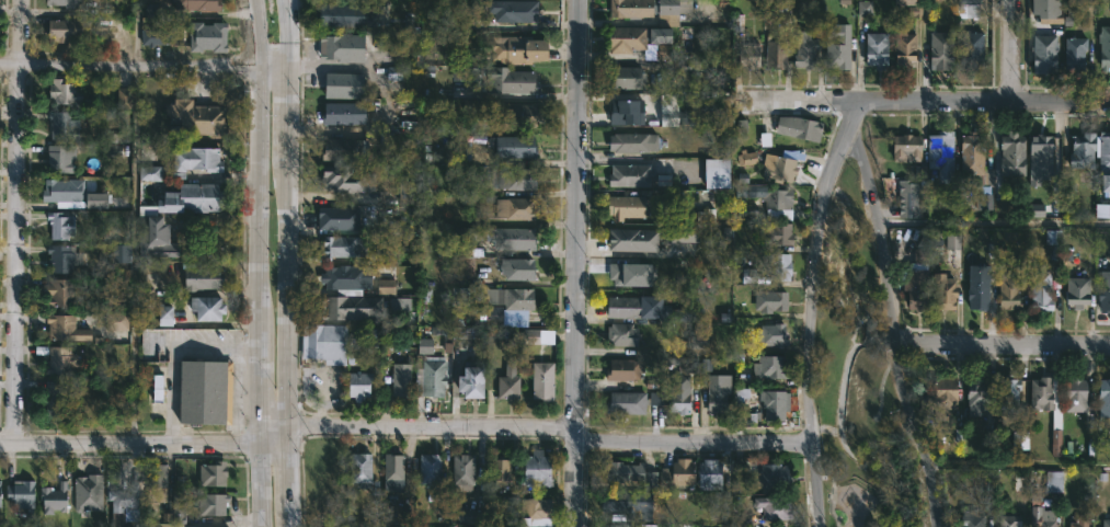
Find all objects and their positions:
building: (68, 2)
building: (199, 3)
building: (649, 8)
building: (863, 8)
building: (911, 8)
building: (968, 9)
building: (515, 10)
building: (1044, 12)
building: (346, 15)
building: (408, 24)
building: (69, 28)
road: (135, 35)
building: (209, 35)
road: (250, 35)
building: (659, 35)
building: (156, 36)
building: (630, 37)
building: (901, 45)
building: (340, 46)
building: (838, 46)
building: (1102, 47)
building: (523, 48)
building: (872, 49)
building: (937, 49)
building: (968, 49)
building: (801, 50)
road: (1009, 51)
building: (1040, 51)
building: (1071, 51)
building: (775, 53)
building: (751, 55)
road: (144, 70)
building: (393, 73)
building: (630, 77)
building: (500, 79)
building: (344, 84)
building: (67, 92)
building: (124, 98)
road: (926, 101)
building: (668, 105)
building: (629, 112)
building: (345, 113)
building: (519, 114)
building: (201, 116)
building: (685, 117)
building: (65, 125)
building: (740, 126)
building: (800, 127)
building: (636, 141)
building: (518, 146)
building: (902, 147)
building: (345, 149)
building: (1079, 150)
building: (461, 151)
building: (1009, 153)
building: (936, 156)
building: (747, 158)
building: (62, 159)
building: (198, 159)
building: (1037, 159)
building: (777, 167)
building: (973, 170)
building: (717, 172)
building: (150, 173)
building: (633, 175)
building: (1102, 175)
building: (350, 179)
building: (515, 179)
building: (75, 193)
building: (405, 193)
road: (261, 196)
building: (774, 197)
building: (195, 198)
building: (907, 204)
building: (629, 207)
building: (517, 208)
building: (748, 209)
building: (1037, 210)
building: (705, 217)
building: (337, 218)
road: (16, 221)
road: (994, 222)
building: (62, 225)
building: (685, 233)
building: (775, 233)
building: (502, 237)
building: (1052, 237)
building: (158, 238)
building: (636, 239)
building: (952, 243)
building: (344, 245)
building: (121, 253)
road: (133, 256)
building: (65, 257)
road: (288, 262)
road: (575, 263)
building: (474, 264)
building: (775, 266)
building: (520, 268)
building: (621, 272)
road: (884, 273)
building: (747, 275)
building: (346, 277)
building: (205, 278)
building: (1006, 285)
building: (386, 286)
building: (912, 288)
building: (1041, 288)
building: (1077, 289)
building: (1102, 290)
building: (939, 291)
building: (64, 293)
building: (974, 294)
building: (459, 297)
building: (769, 301)
building: (514, 303)
building: (399, 306)
building: (425, 306)
building: (211, 307)
building: (631, 307)
building: (354, 308)
building: (164, 309)
road: (801, 309)
building: (117, 320)
building: (62, 326)
building: (623, 334)
building: (768, 334)
building: (538, 336)
building: (327, 342)
road: (1000, 343)
road: (222, 345)
building: (424, 346)
building: (59, 359)
building: (687, 365)
building: (769, 367)
building: (621, 369)
road: (262, 371)
building: (433, 376)
building: (402, 379)
building: (477, 379)
building: (546, 381)
building: (511, 382)
building: (362, 385)
building: (157, 387)
road: (171, 391)
building: (206, 392)
building: (975, 392)
building: (1042, 392)
building: (938, 393)
building: (1072, 393)
building: (683, 394)
building: (1006, 394)
building: (59, 398)
building: (719, 398)
building: (1101, 398)
building: (628, 402)
building: (771, 404)
road: (274, 422)
road: (431, 424)
road: (262, 434)
road: (691, 439)
building: (1019, 439)
road: (8, 443)
road: (138, 445)
road: (274, 446)
road: (1018, 465)
road: (927, 468)
building: (433, 469)
building: (465, 469)
building: (503, 470)
building: (540, 470)
building: (365, 471)
building: (215, 473)
building: (396, 473)
building: (713, 473)
building: (158, 474)
building: (633, 474)
building: (682, 474)
building: (769, 476)
building: (1053, 481)
road: (261, 486)
building: (1, 493)
building: (23, 493)
building: (90, 493)
building: (56, 499)
building: (622, 503)
building: (126, 504)
building: (215, 504)
building: (178, 507)
building: (767, 507)
building: (539, 512)
building: (469, 517)
building: (1039, 517)
building: (965, 519)
building: (1006, 520)
building: (1076, 522)
building: (1105, 523)
building: (354, 526)
building: (631, 526)

